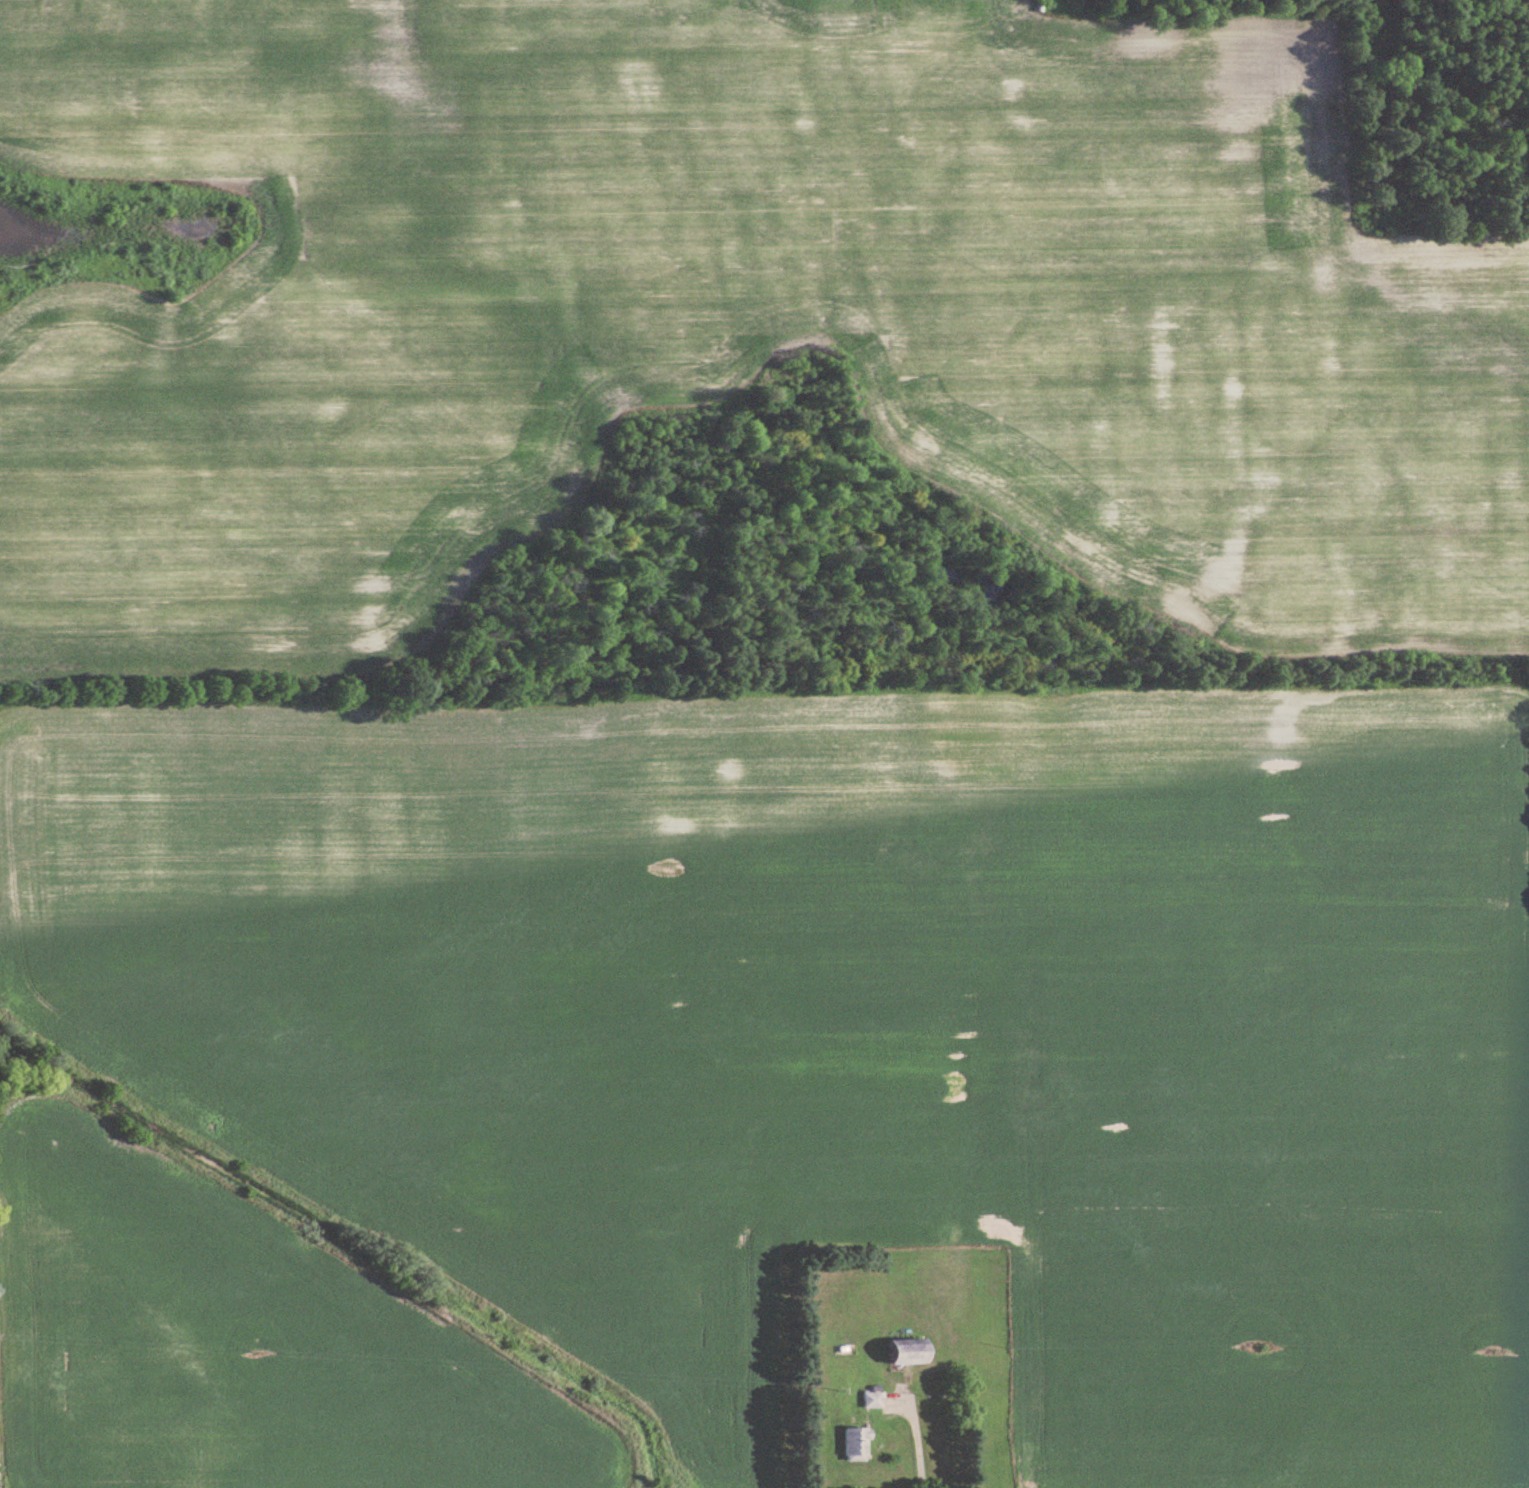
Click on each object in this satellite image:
building: (910, 1351)
building: (871, 1400)
building: (856, 1444)

